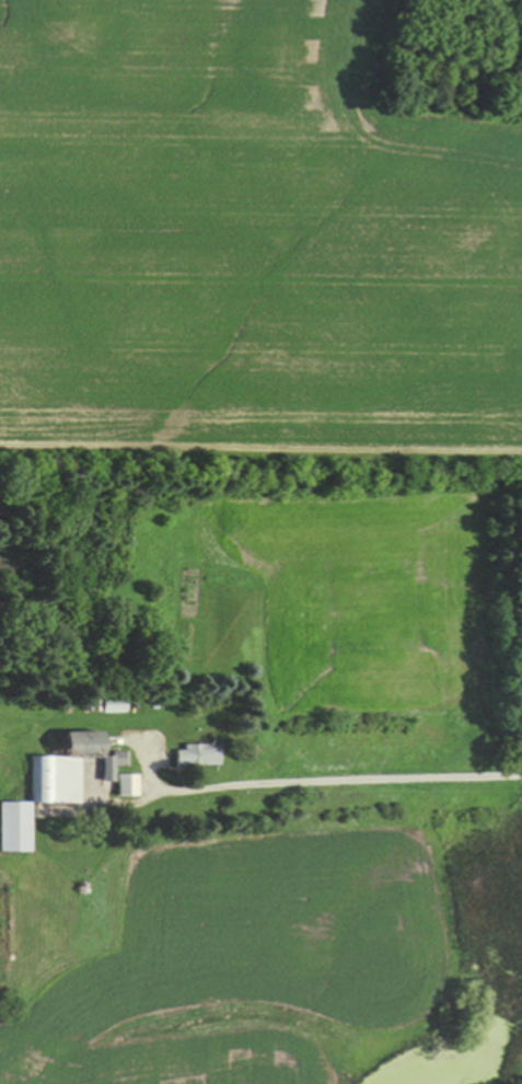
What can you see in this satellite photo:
building: (195, 753)
building: (108, 764)
building: (59, 765)
road: (349, 777)
building: (125, 784)
building: (13, 826)

